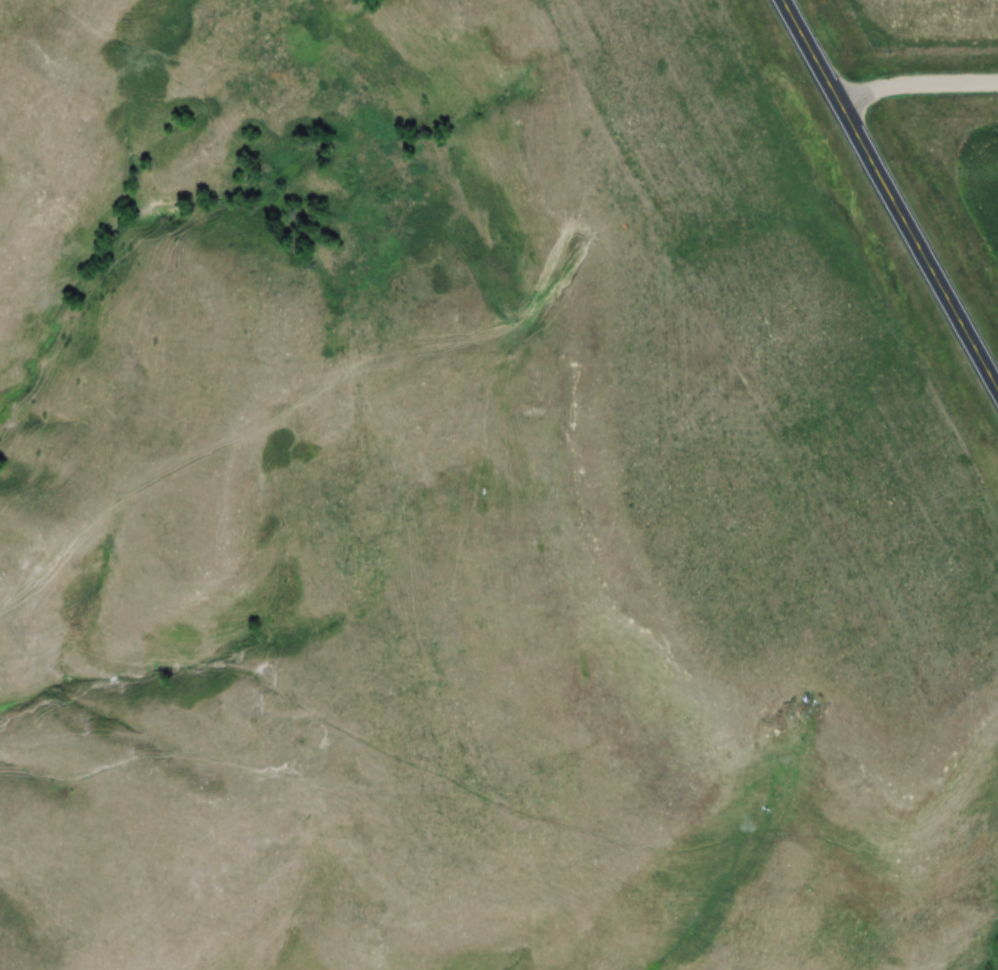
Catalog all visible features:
road: (918, 87)
road: (893, 189)

